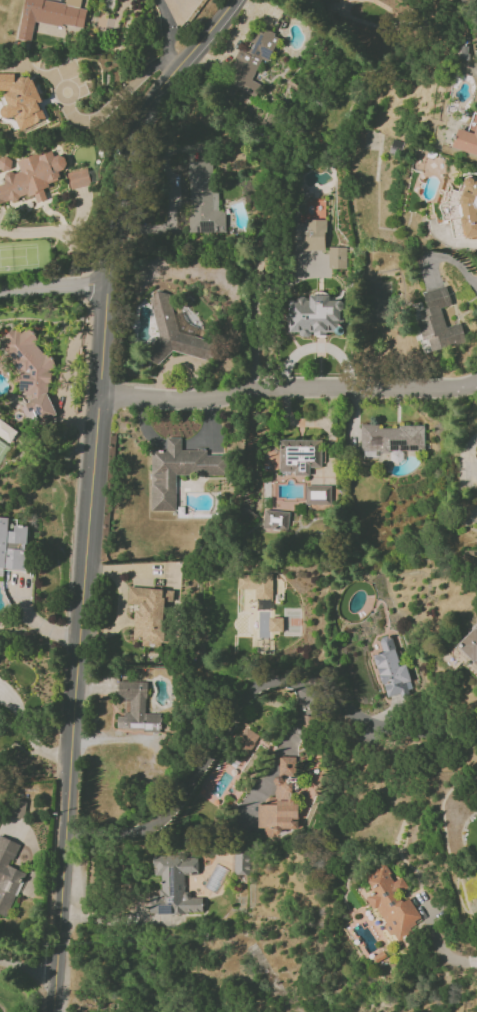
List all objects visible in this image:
building: (51, 14)
road: (167, 33)
building: (251, 61)
road: (295, 87)
building: (20, 100)
road: (114, 100)
building: (467, 137)
building: (31, 177)
building: (78, 178)
building: (203, 199)
building: (461, 208)
building: (310, 234)
building: (336, 257)
road: (446, 257)
road: (52, 287)
building: (314, 314)
building: (438, 321)
building: (173, 334)
building: (31, 372)
road: (286, 388)
building: (6, 431)
building: (391, 438)
road: (463, 451)
building: (298, 456)
building: (178, 470)
road: (89, 489)
building: (317, 494)
building: (276, 519)
building: (12, 545)
building: (256, 584)
building: (263, 604)
building: (149, 613)
building: (275, 624)
building: (469, 645)
building: (391, 669)
road: (272, 677)
building: (136, 707)
road: (27, 735)
building: (248, 740)
building: (281, 801)
building: (17, 809)
building: (241, 864)
building: (8, 874)
building: (174, 886)
building: (392, 902)
road: (443, 948)
road: (27, 971)

